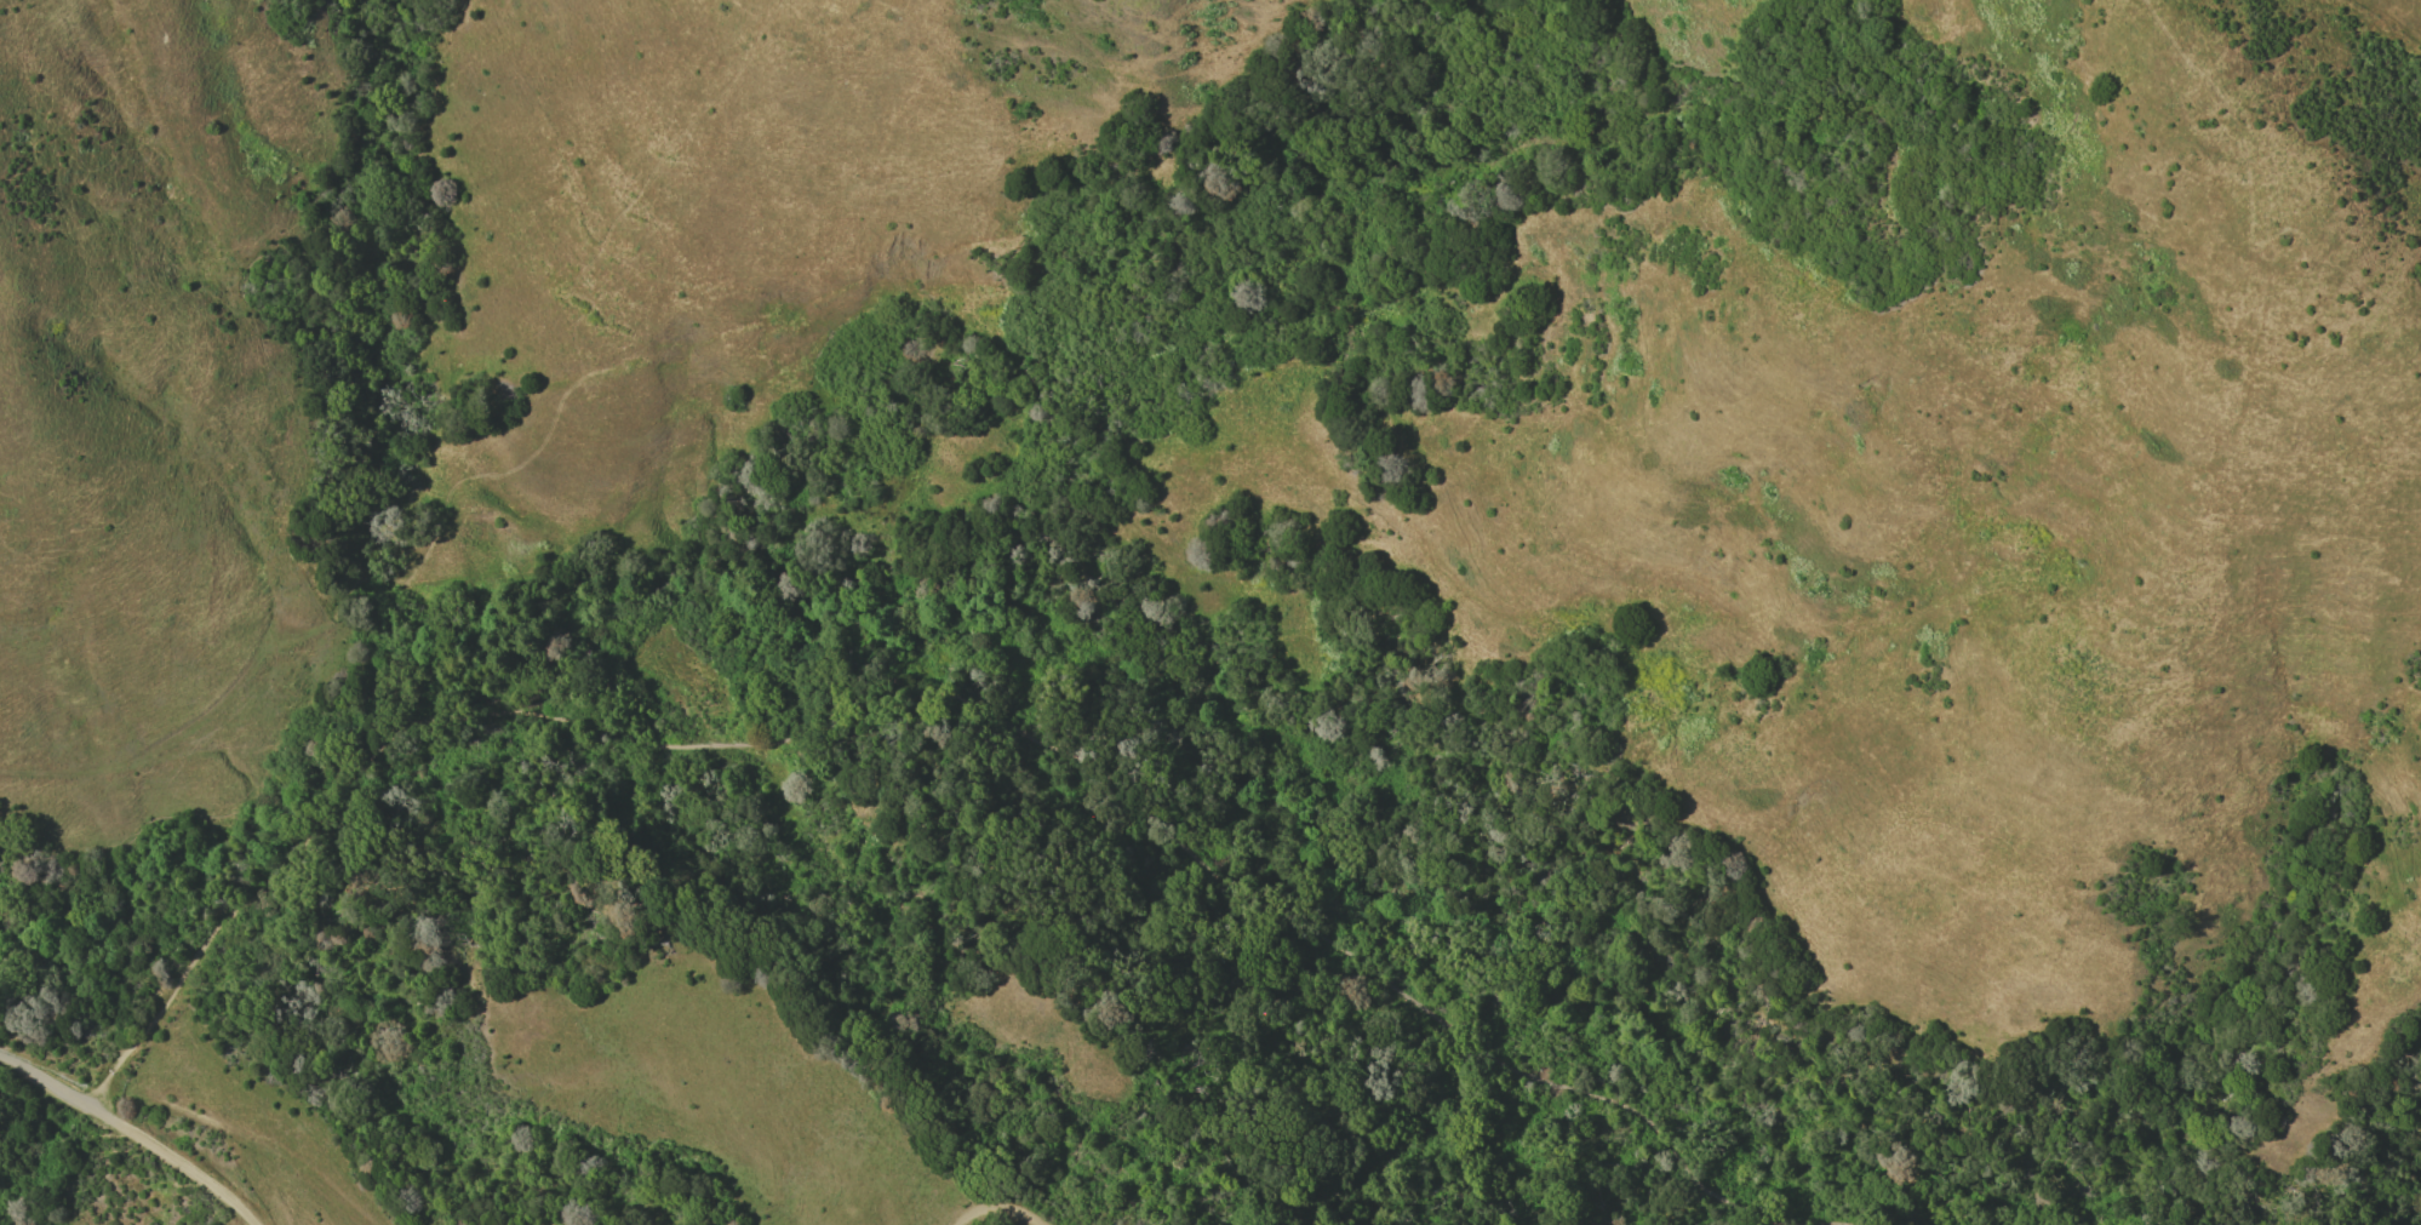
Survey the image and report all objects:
road: (960, 698)
road: (41, 1082)
road: (239, 1137)
road: (174, 1157)
road: (994, 1217)

